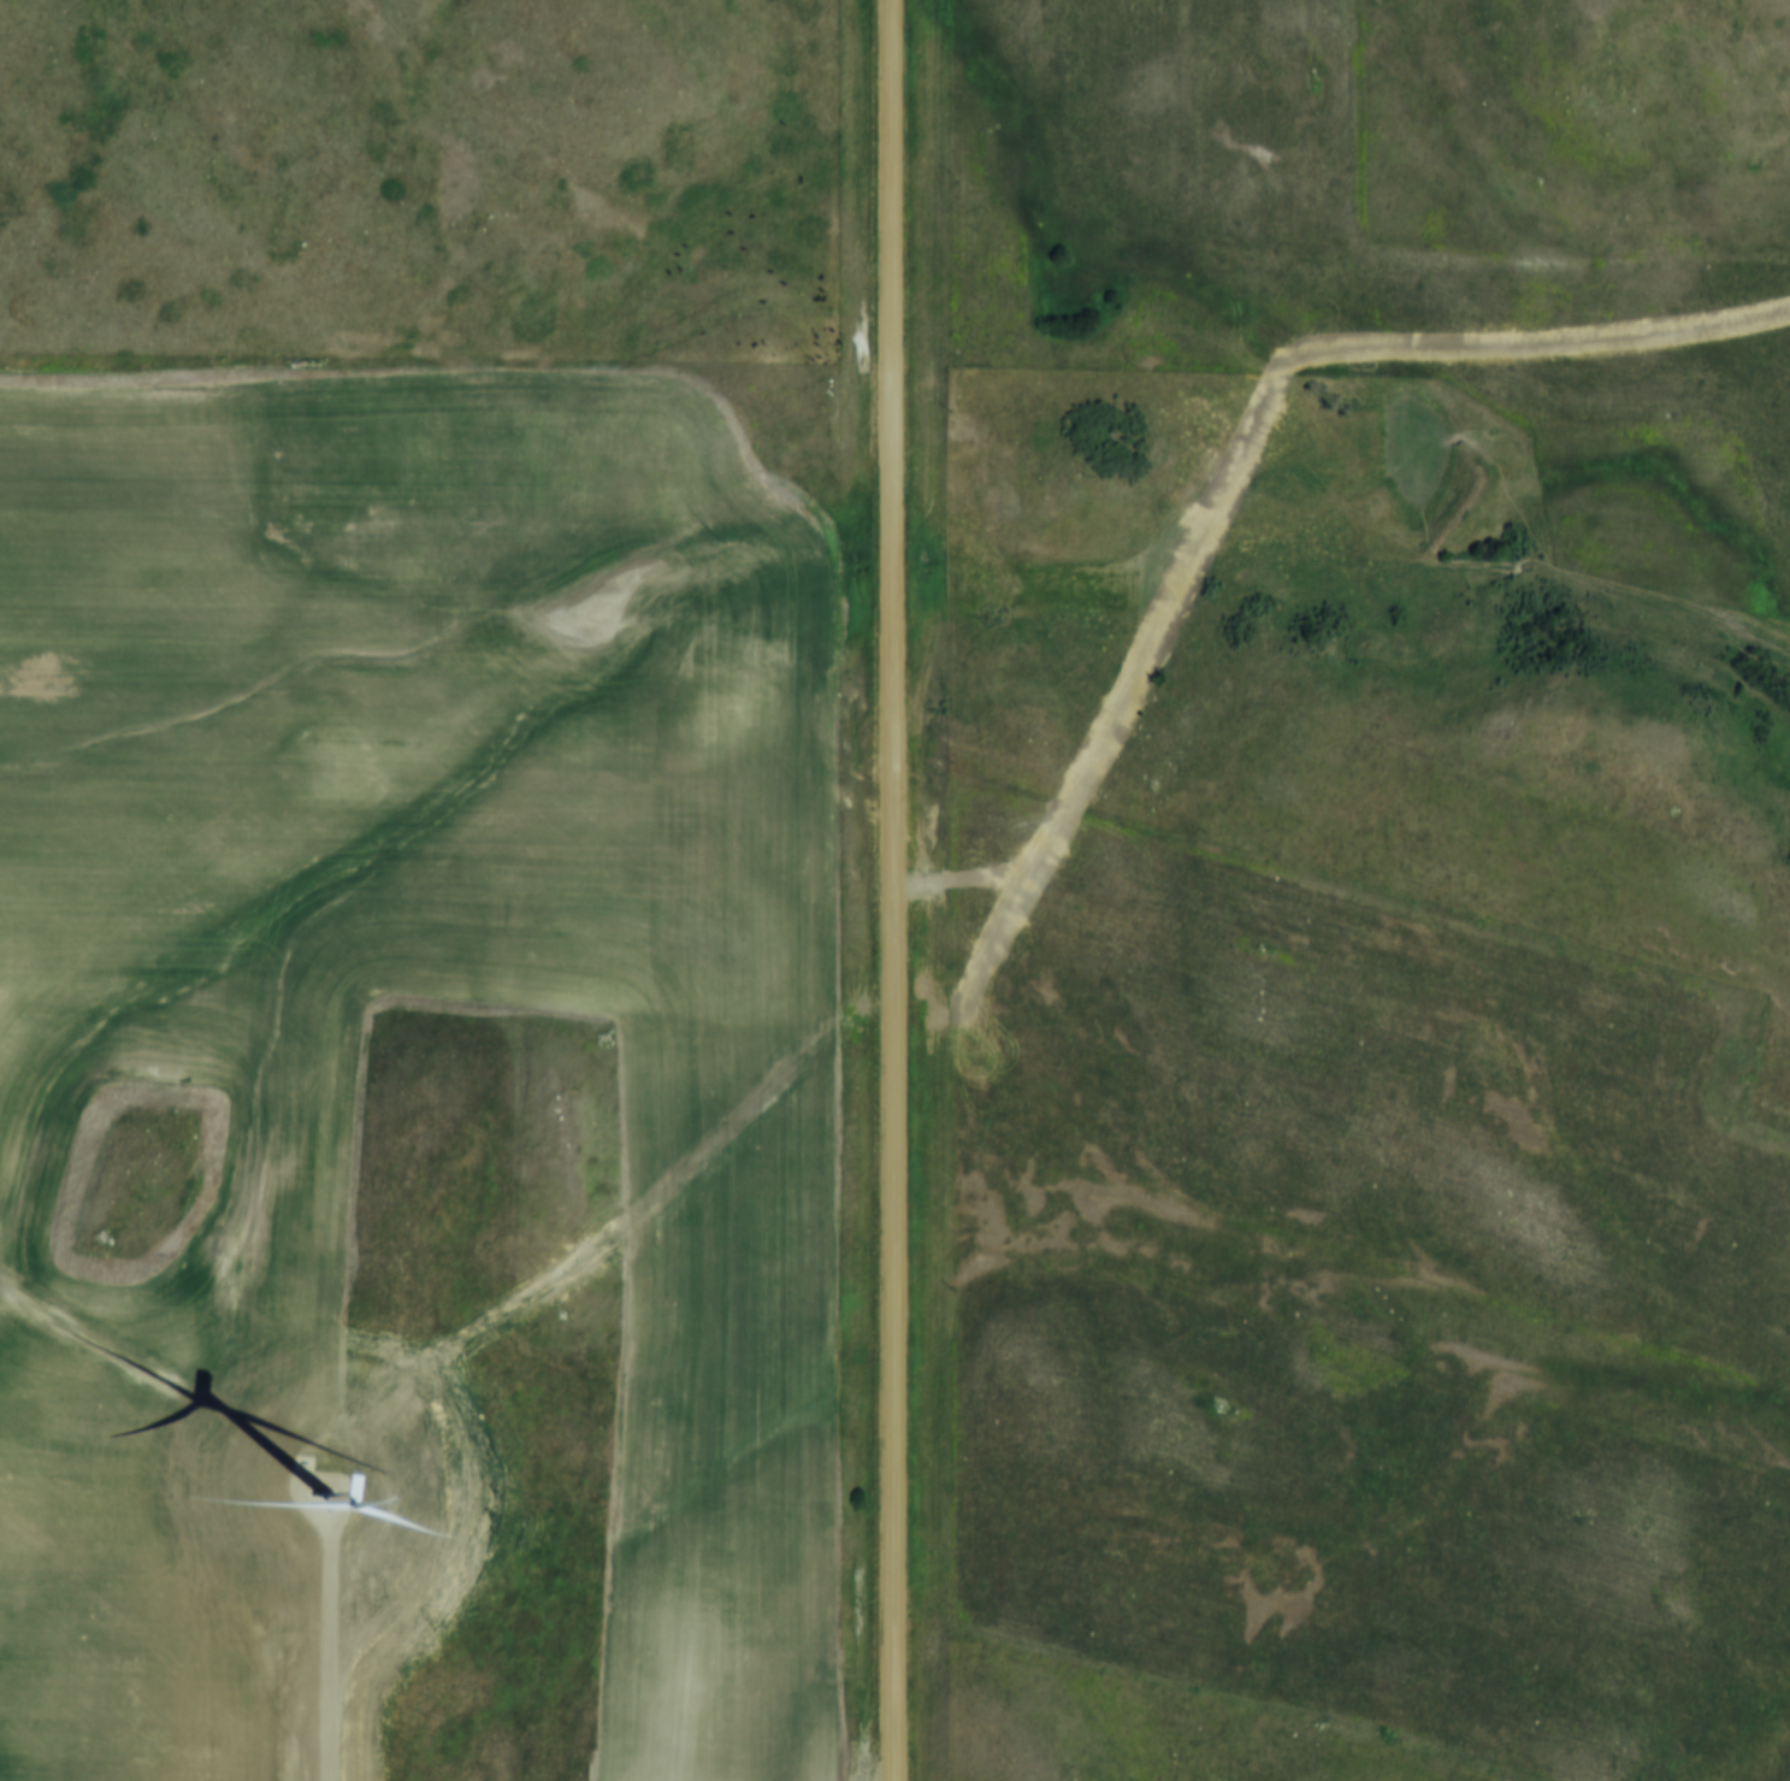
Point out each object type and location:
road: (896, 890)
road: (571, 1214)
wind turbine: (330, 1488)
road: (254, 1516)

